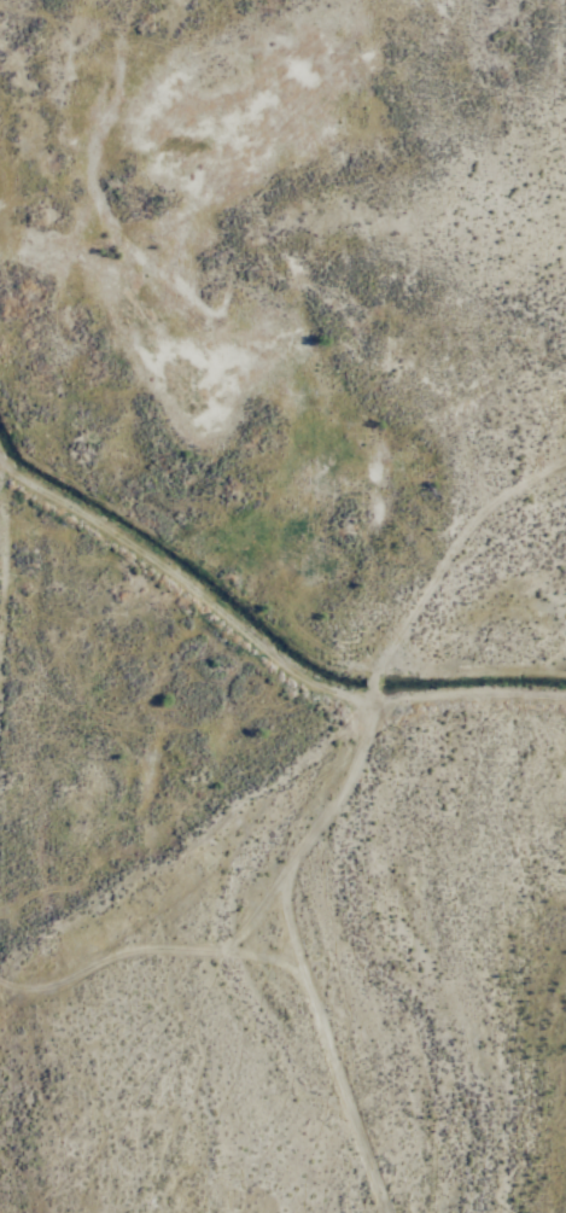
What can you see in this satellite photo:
road: (257, 645)
road: (332, 810)
road: (154, 955)

